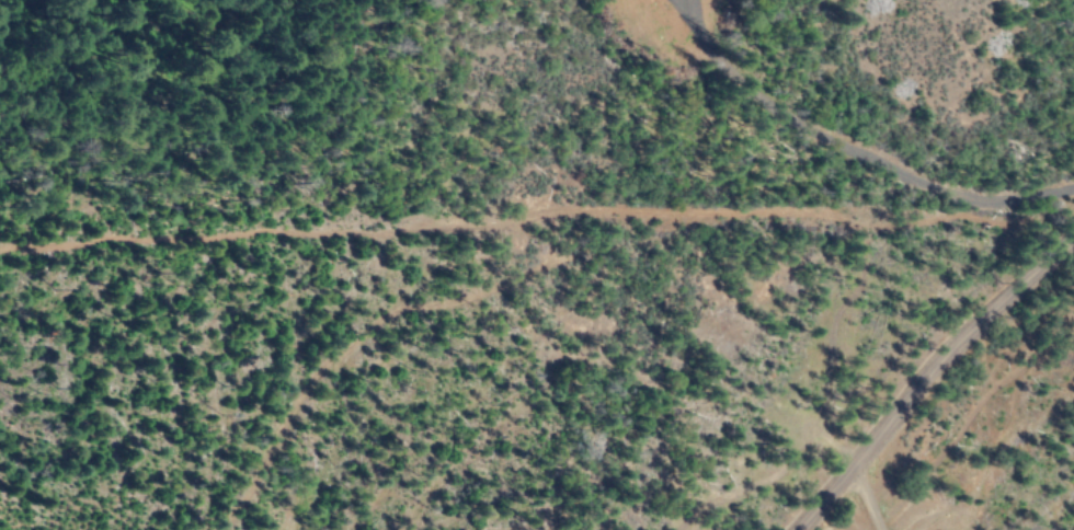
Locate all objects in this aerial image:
road: (911, 62)
road: (938, 376)

